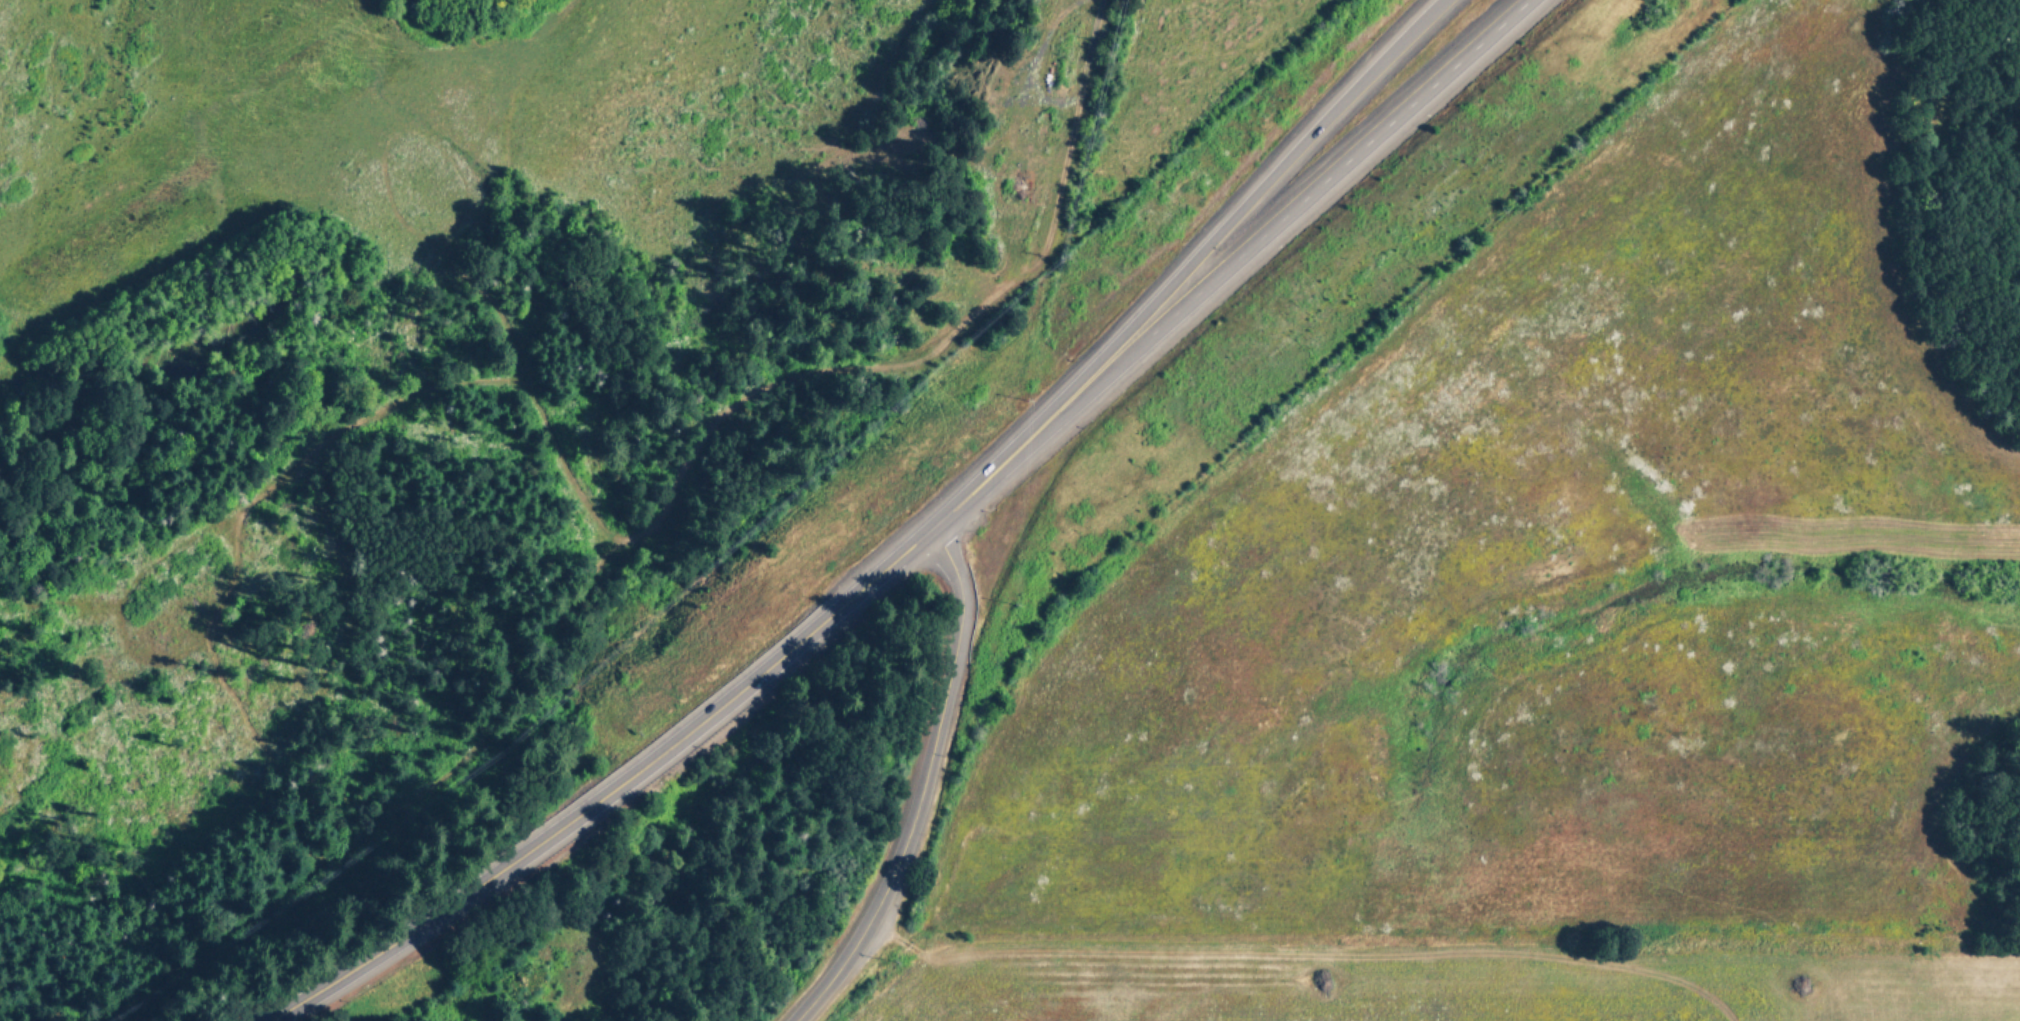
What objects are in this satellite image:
road: (1072, 132)
crop: (100, 141)
road: (1340, 169)
road: (1190, 264)
road: (1043, 435)
crop: (1529, 587)
road: (922, 787)
road: (612, 793)

